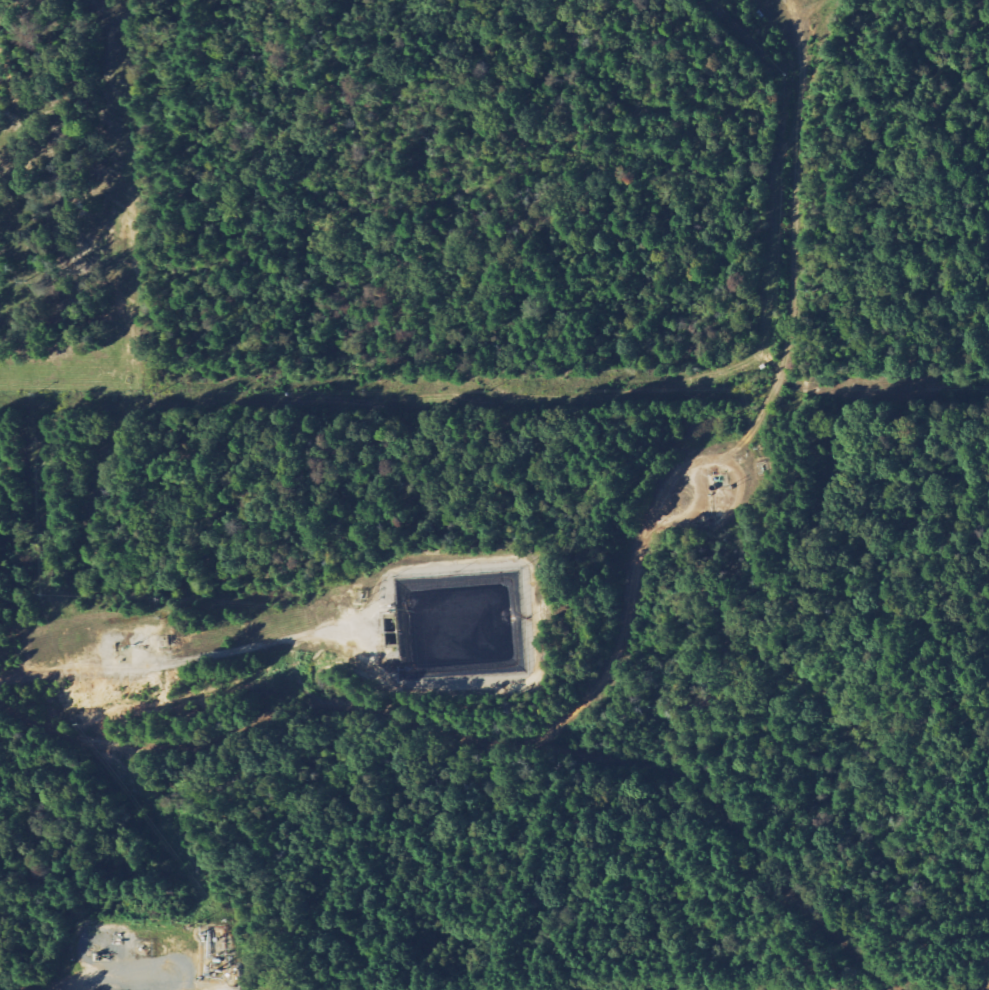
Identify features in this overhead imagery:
road: (188, 661)
road: (191, 973)
road: (43, 988)

